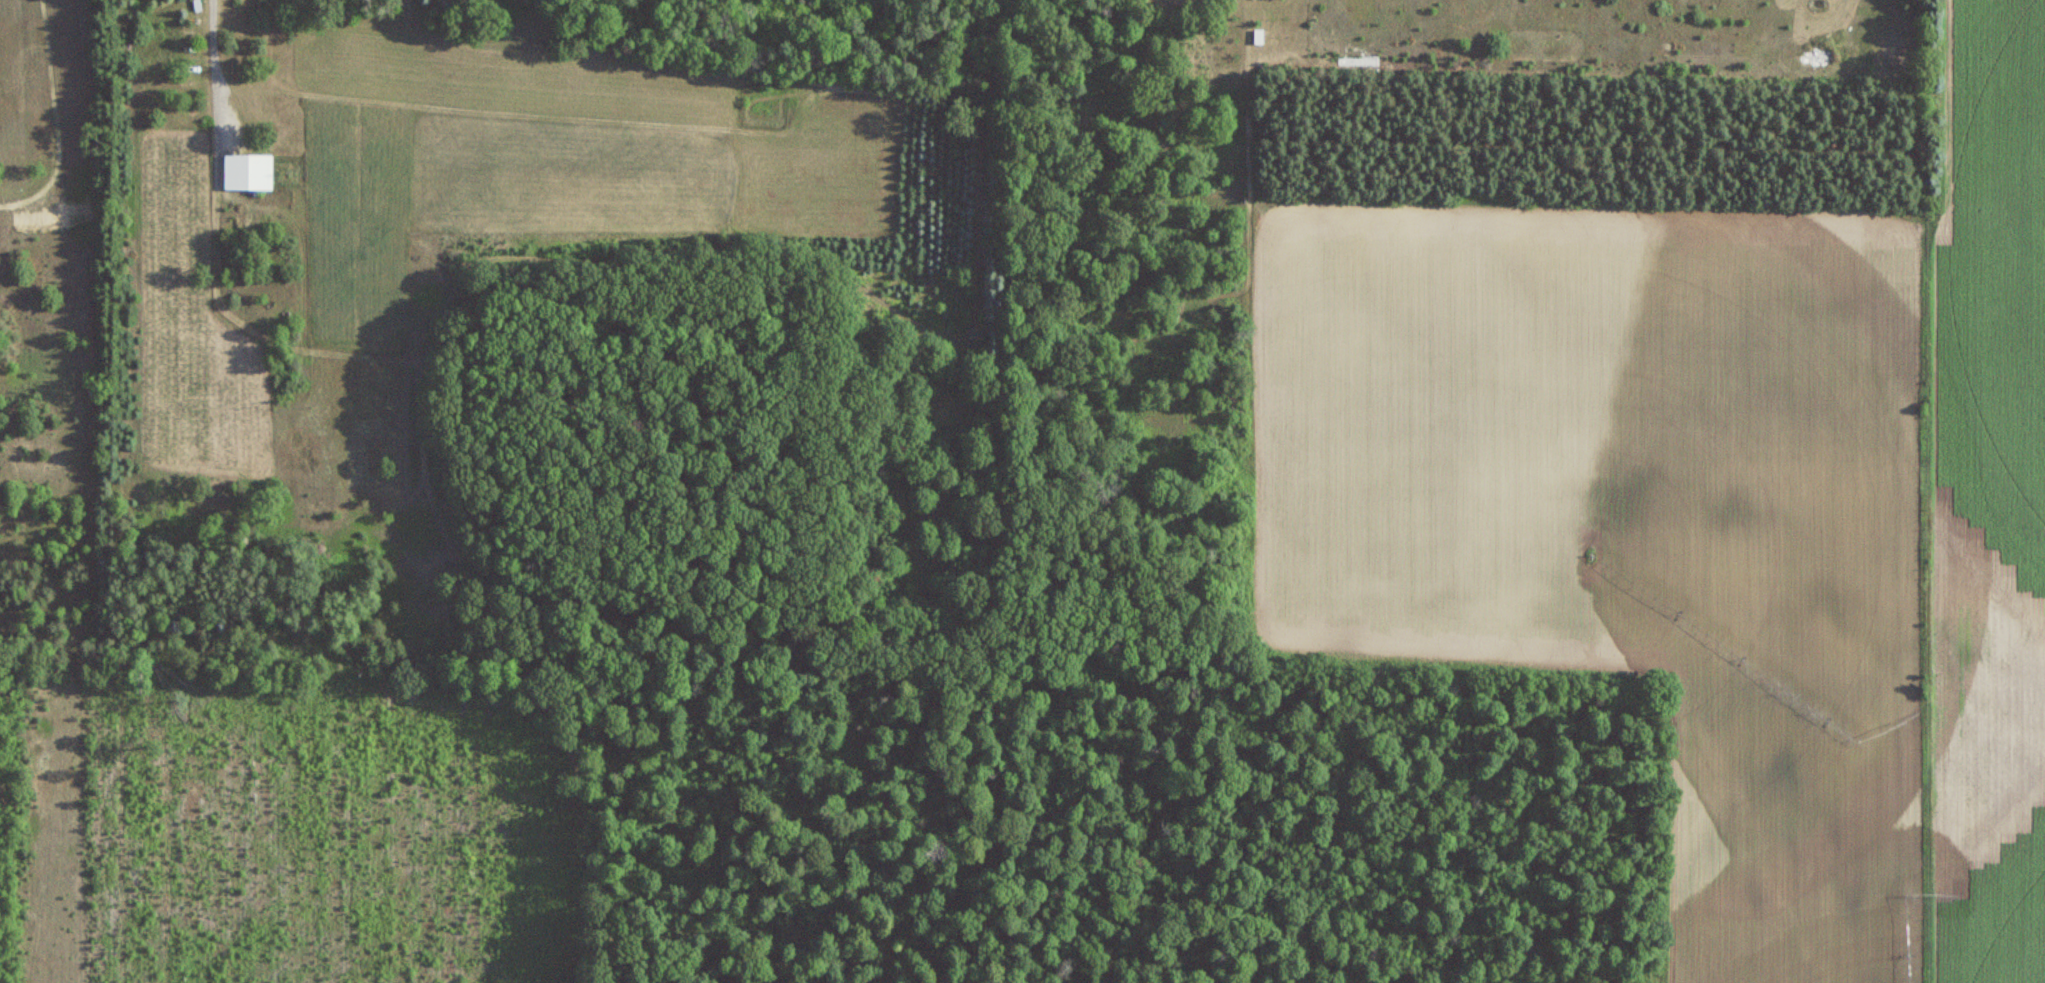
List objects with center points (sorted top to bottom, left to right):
building: (1256, 36)
road: (214, 61)
building: (246, 172)

